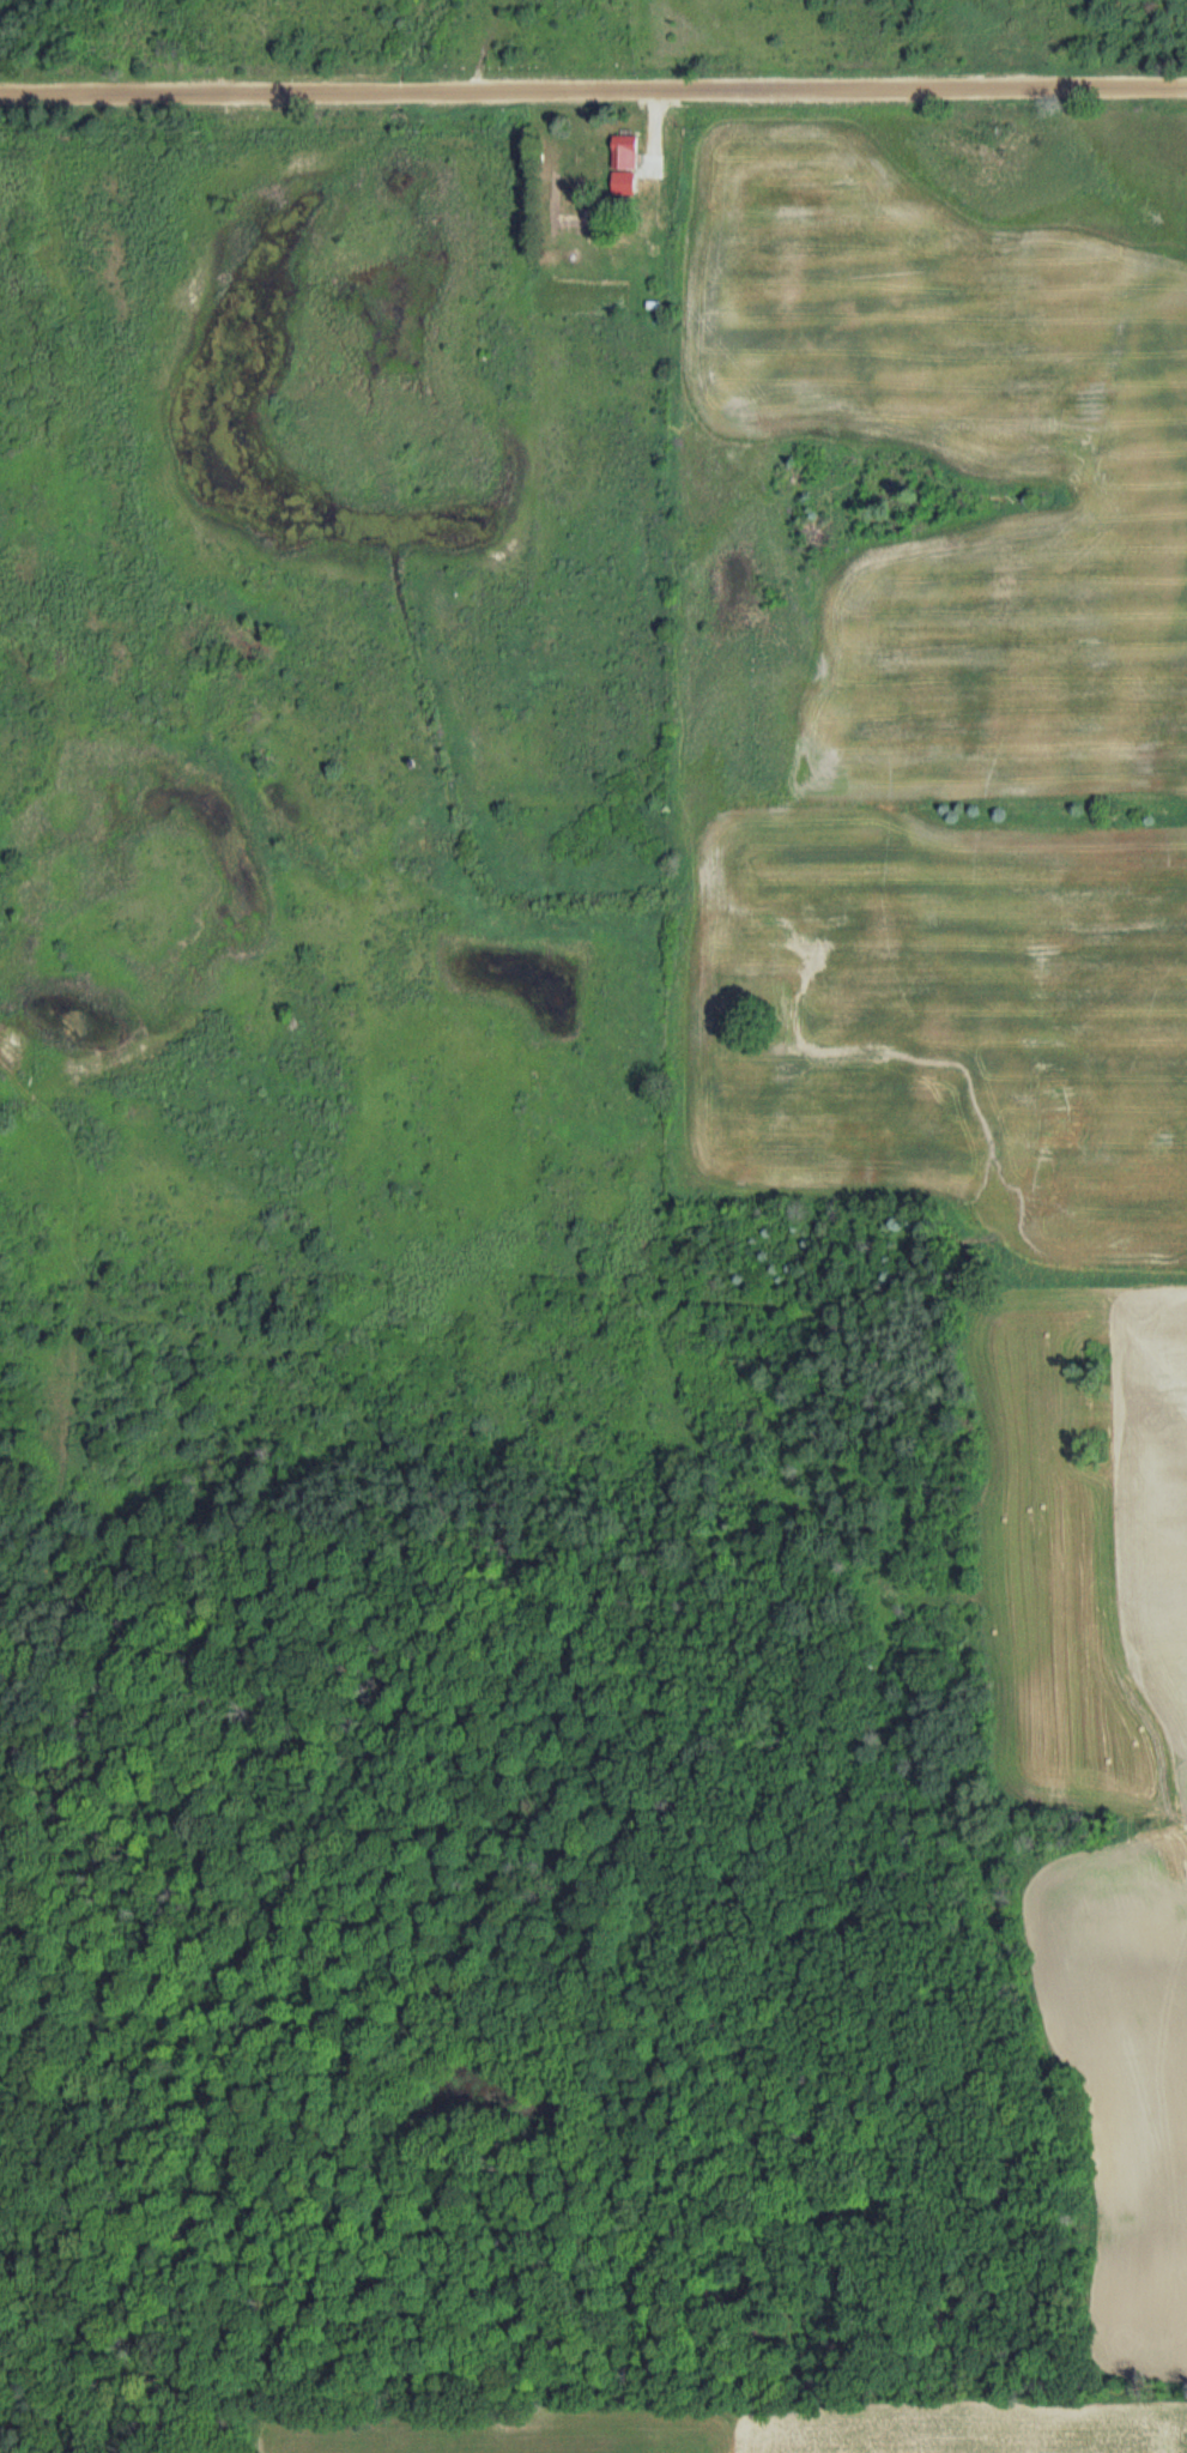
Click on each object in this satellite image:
road: (593, 90)
building: (625, 153)
building: (624, 185)

